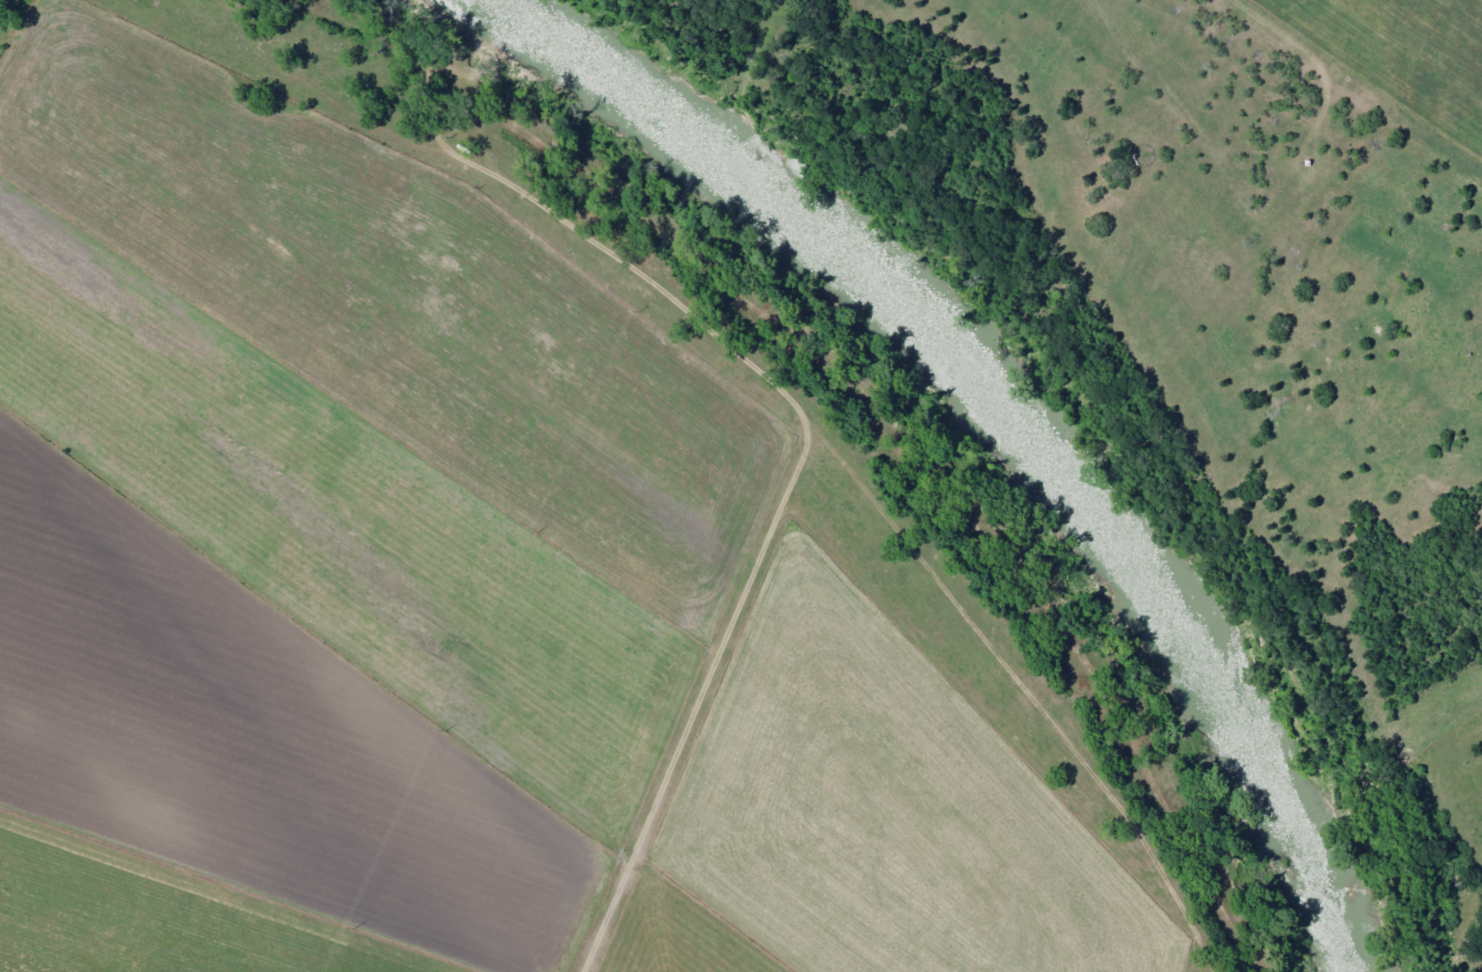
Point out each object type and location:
road: (1346, 88)
road: (845, 103)
river: (848, 510)

